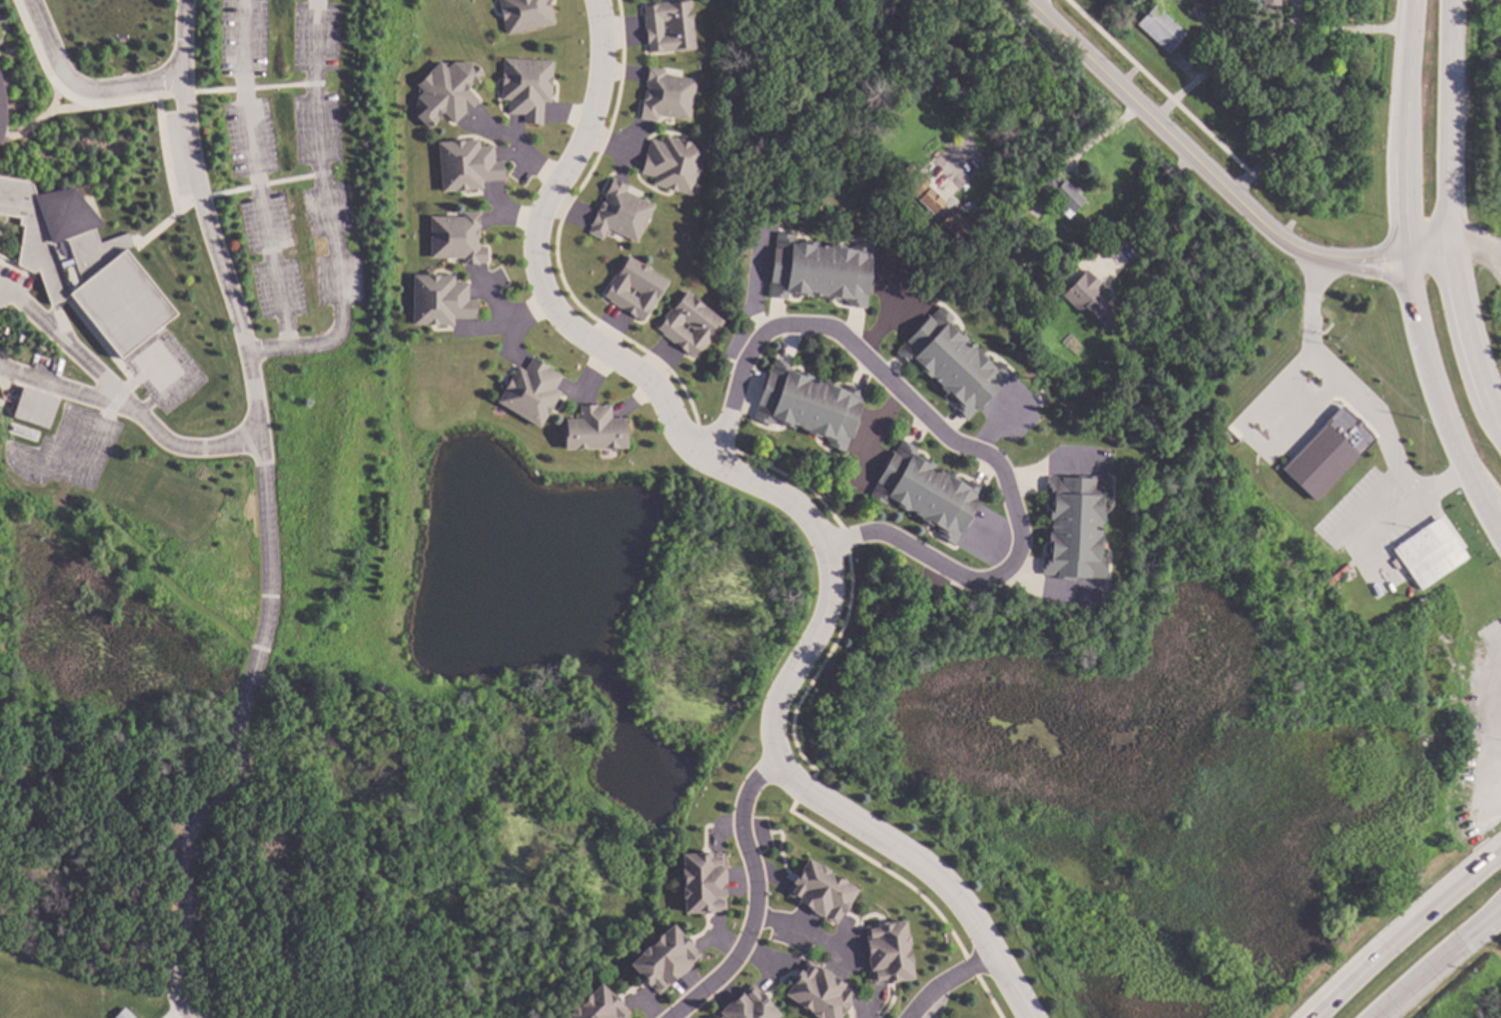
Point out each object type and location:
building: (1272, 5)
building: (526, 15)
building: (671, 25)
road: (1354, 27)
building: (1162, 29)
building: (1212, 29)
building: (1294, 59)
road: (970, 79)
building: (528, 86)
road: (79, 88)
building: (449, 91)
building: (668, 95)
building: (3, 105)
building: (1302, 113)
road: (1404, 126)
road: (528, 155)
building: (468, 163)
building: (674, 164)
road: (1199, 164)
road: (255, 175)
building: (927, 192)
building: (1064, 193)
road: (1141, 206)
building: (620, 212)
road: (330, 215)
road: (1449, 219)
building: (966, 221)
building: (457, 236)
road: (1477, 243)
road: (1428, 250)
building: (85, 261)
building: (822, 269)
building: (942, 272)
road: (1372, 275)
building: (635, 286)
building: (1092, 298)
building: (441, 299)
building: (691, 324)
road: (1310, 330)
road: (70, 350)
building: (954, 361)
building: (533, 391)
road: (67, 393)
road: (1435, 397)
building: (810, 403)
building: (38, 406)
road: (1380, 426)
building: (596, 429)
road: (1251, 439)
road: (954, 441)
road: (192, 451)
building: (1330, 453)
road: (1056, 463)
road: (1480, 478)
road: (1431, 487)
building: (928, 490)
road: (799, 504)
road: (266, 520)
building: (1078, 525)
road: (1352, 546)
building: (1431, 553)
road: (1052, 594)
building: (705, 882)
building: (823, 891)
road: (755, 901)
road: (1500, 904)
road: (1484, 917)
road: (1484, 922)
road: (803, 927)
road: (1405, 932)
building: (890, 952)
building: (667, 958)
road: (1418, 975)
road: (948, 981)
building: (822, 991)
building: (601, 1005)
building: (750, 1006)
building: (122, 1014)

